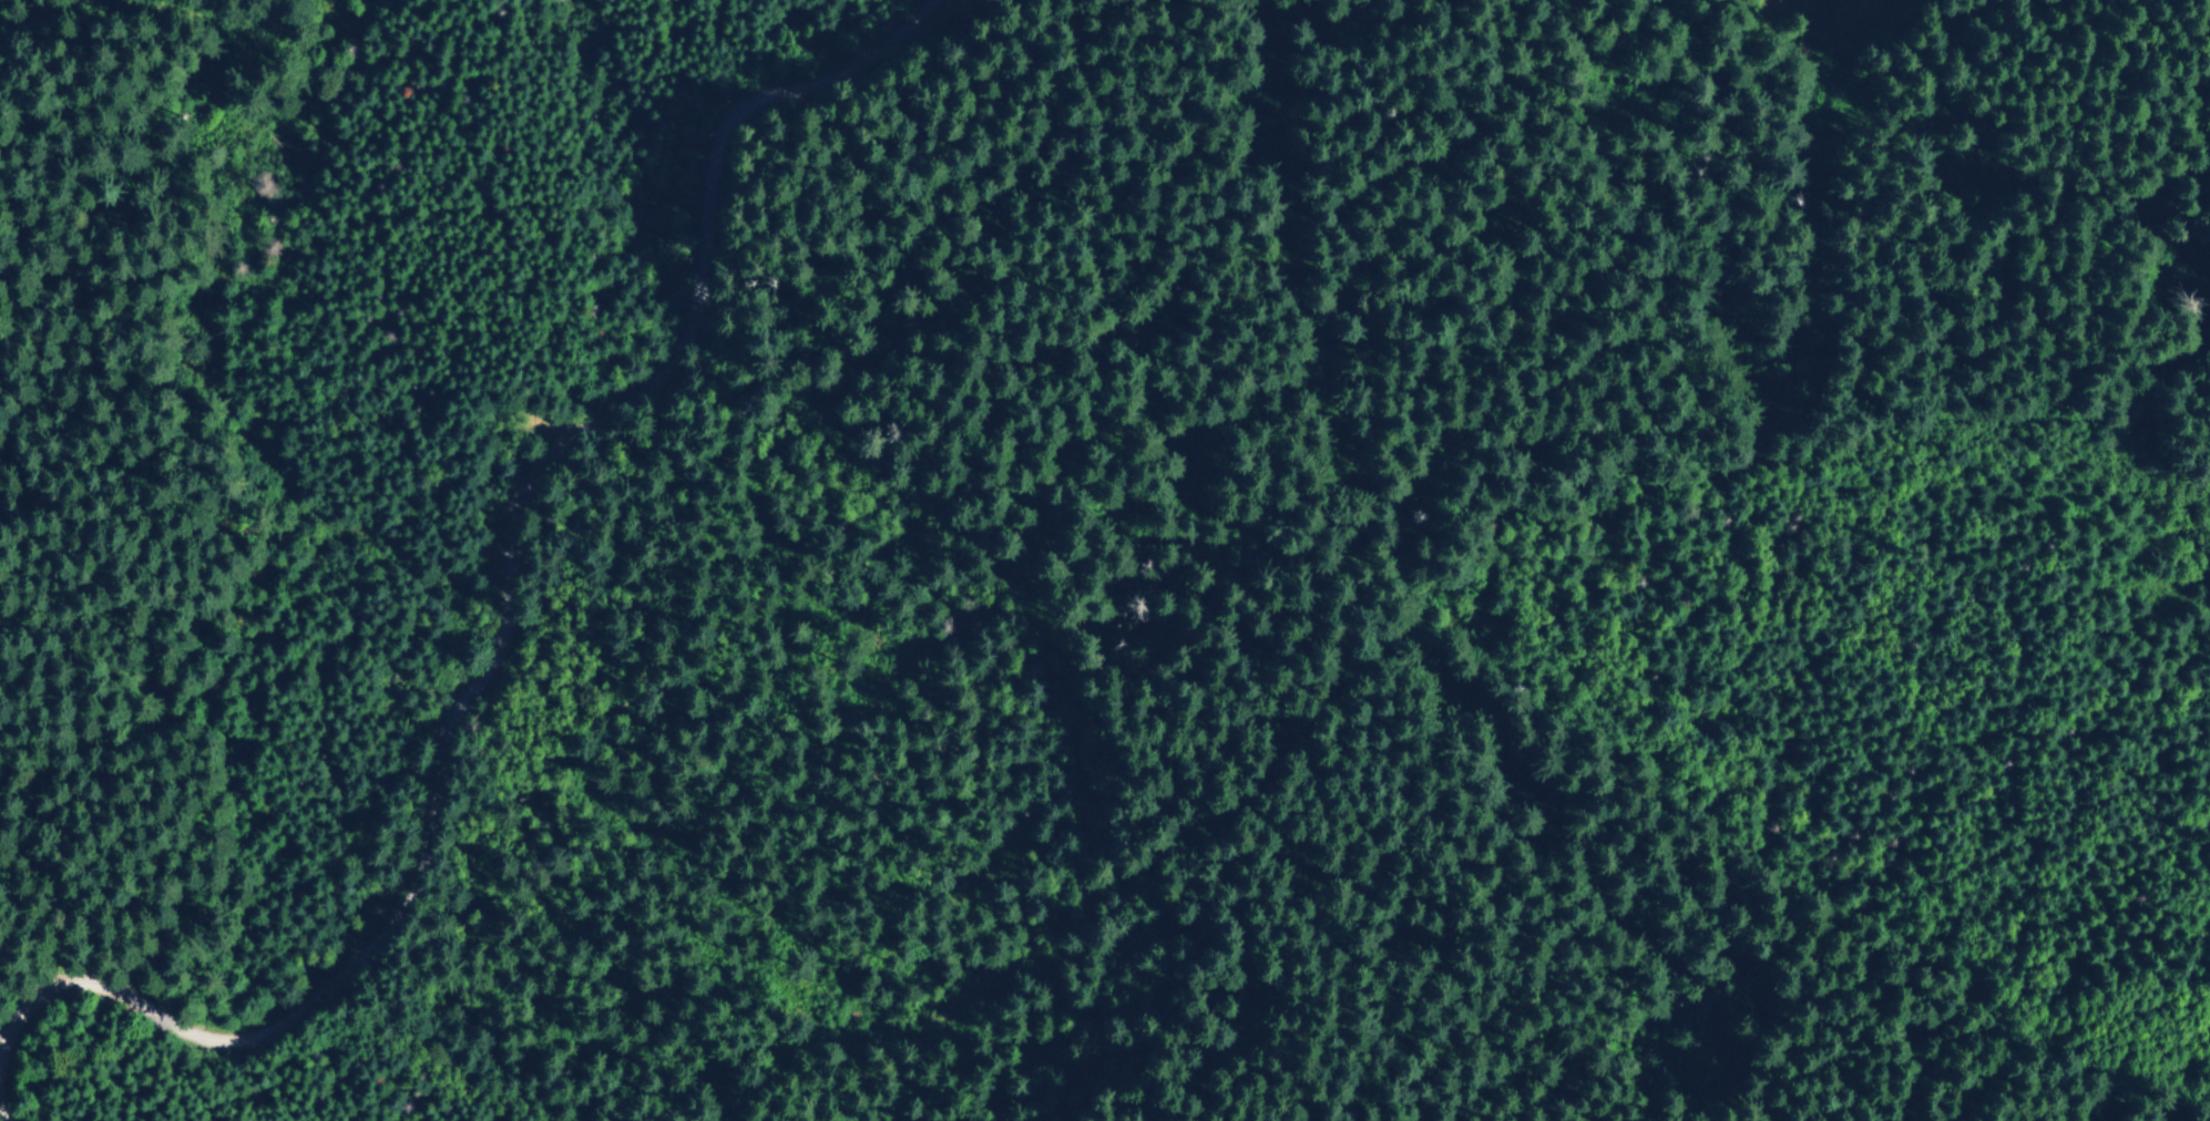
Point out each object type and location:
road: (14, 4)
road: (250, 29)
road: (1874, 42)
road: (1426, 613)
road: (499, 624)

